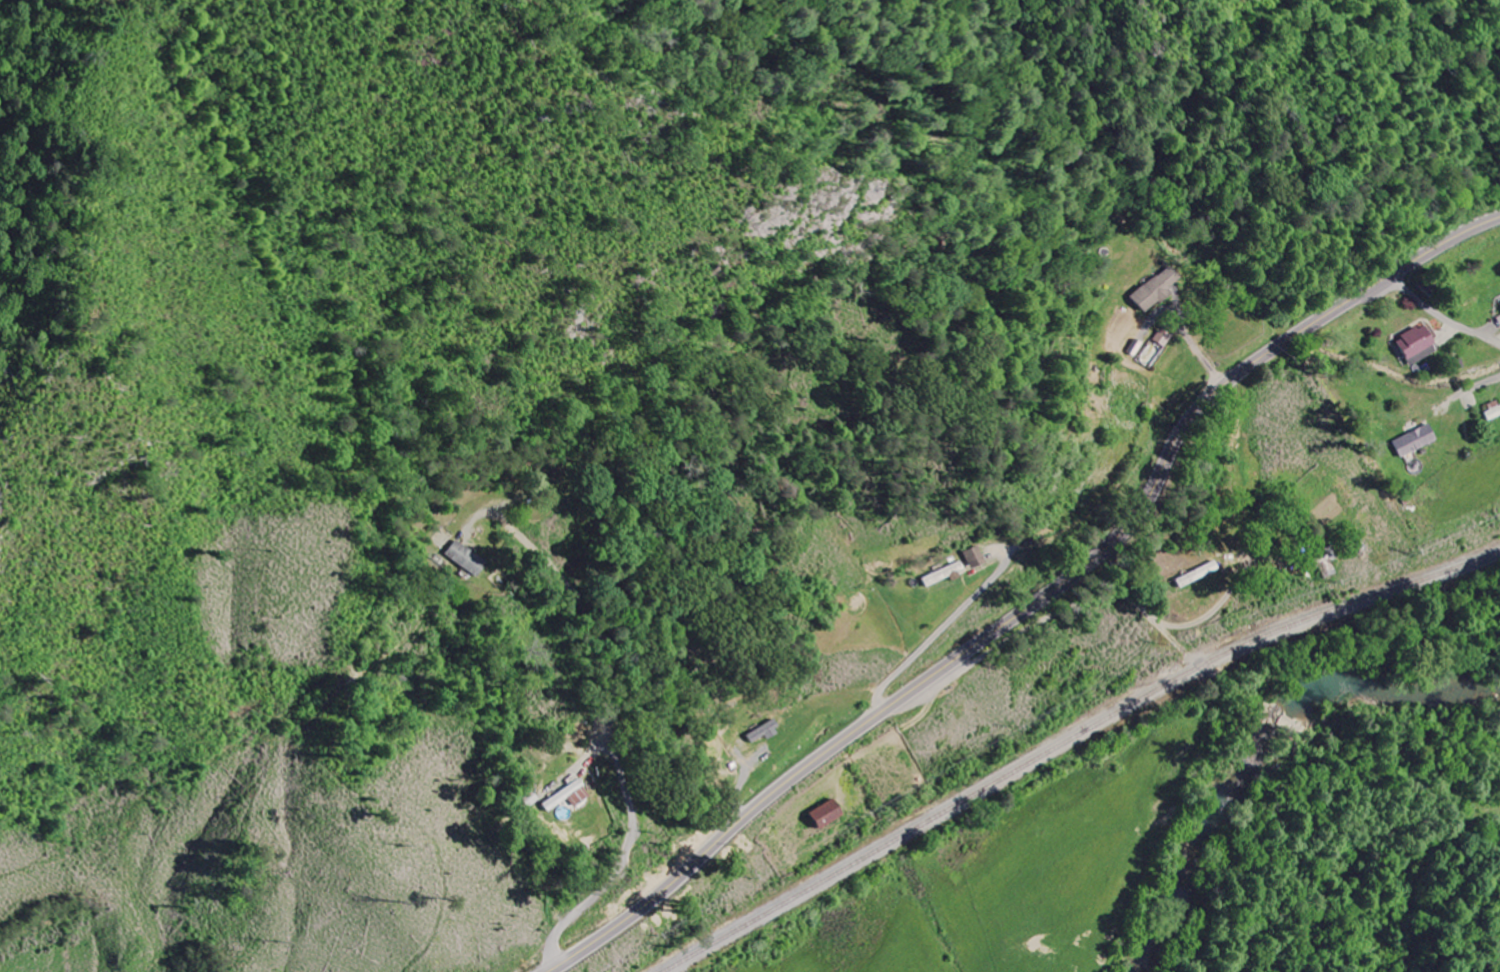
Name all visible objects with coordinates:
building: (1157, 289)
road: (1438, 316)
building: (1165, 337)
building: (1414, 345)
road: (1474, 386)
building: (1492, 413)
building: (1414, 441)
building: (973, 557)
building: (464, 559)
building: (942, 574)
building: (1196, 575)
road: (1039, 602)
road: (1147, 606)
road: (1373, 719)
building: (763, 733)
road: (609, 735)
railway: (1071, 738)
building: (567, 797)
building: (826, 815)

